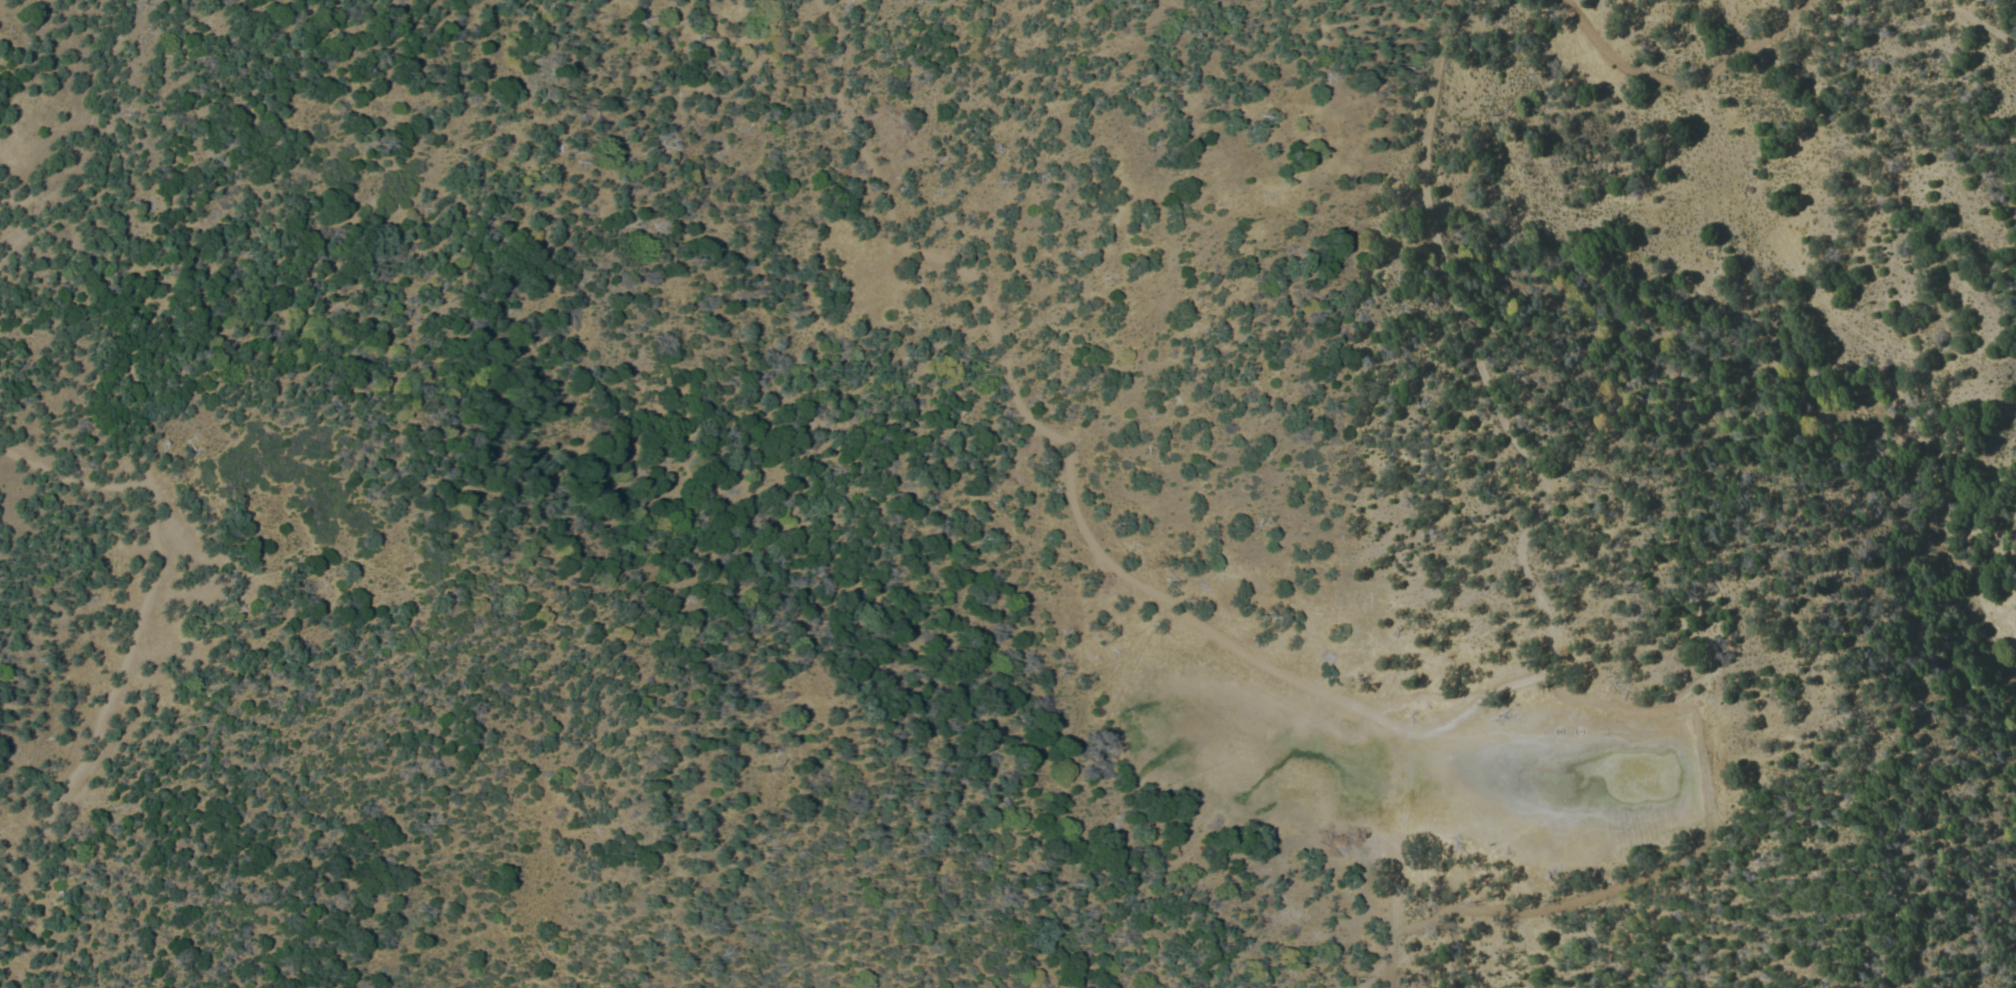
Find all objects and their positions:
road: (1978, 24)
road: (1681, 86)
road: (922, 253)
road: (1514, 454)
road: (1171, 602)
road: (136, 628)
road: (1392, 911)

